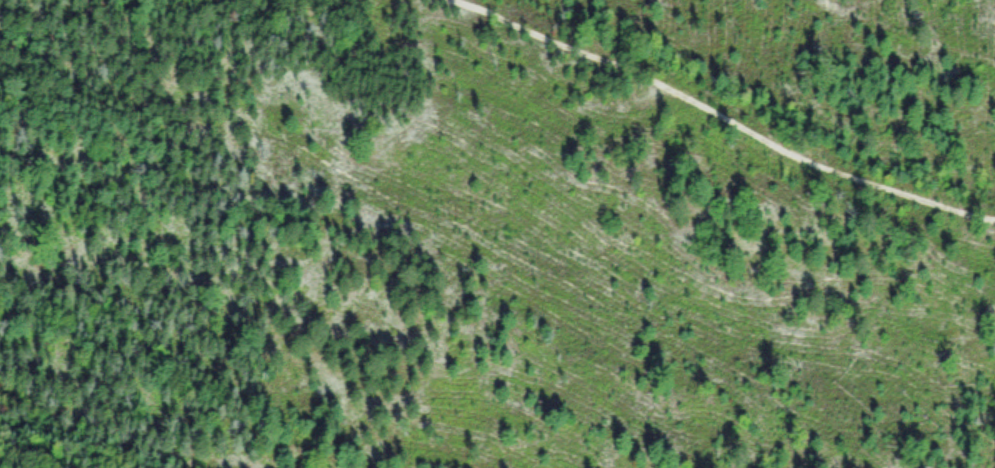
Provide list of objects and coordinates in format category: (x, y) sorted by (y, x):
road: (40, 16)
road: (687, 106)

